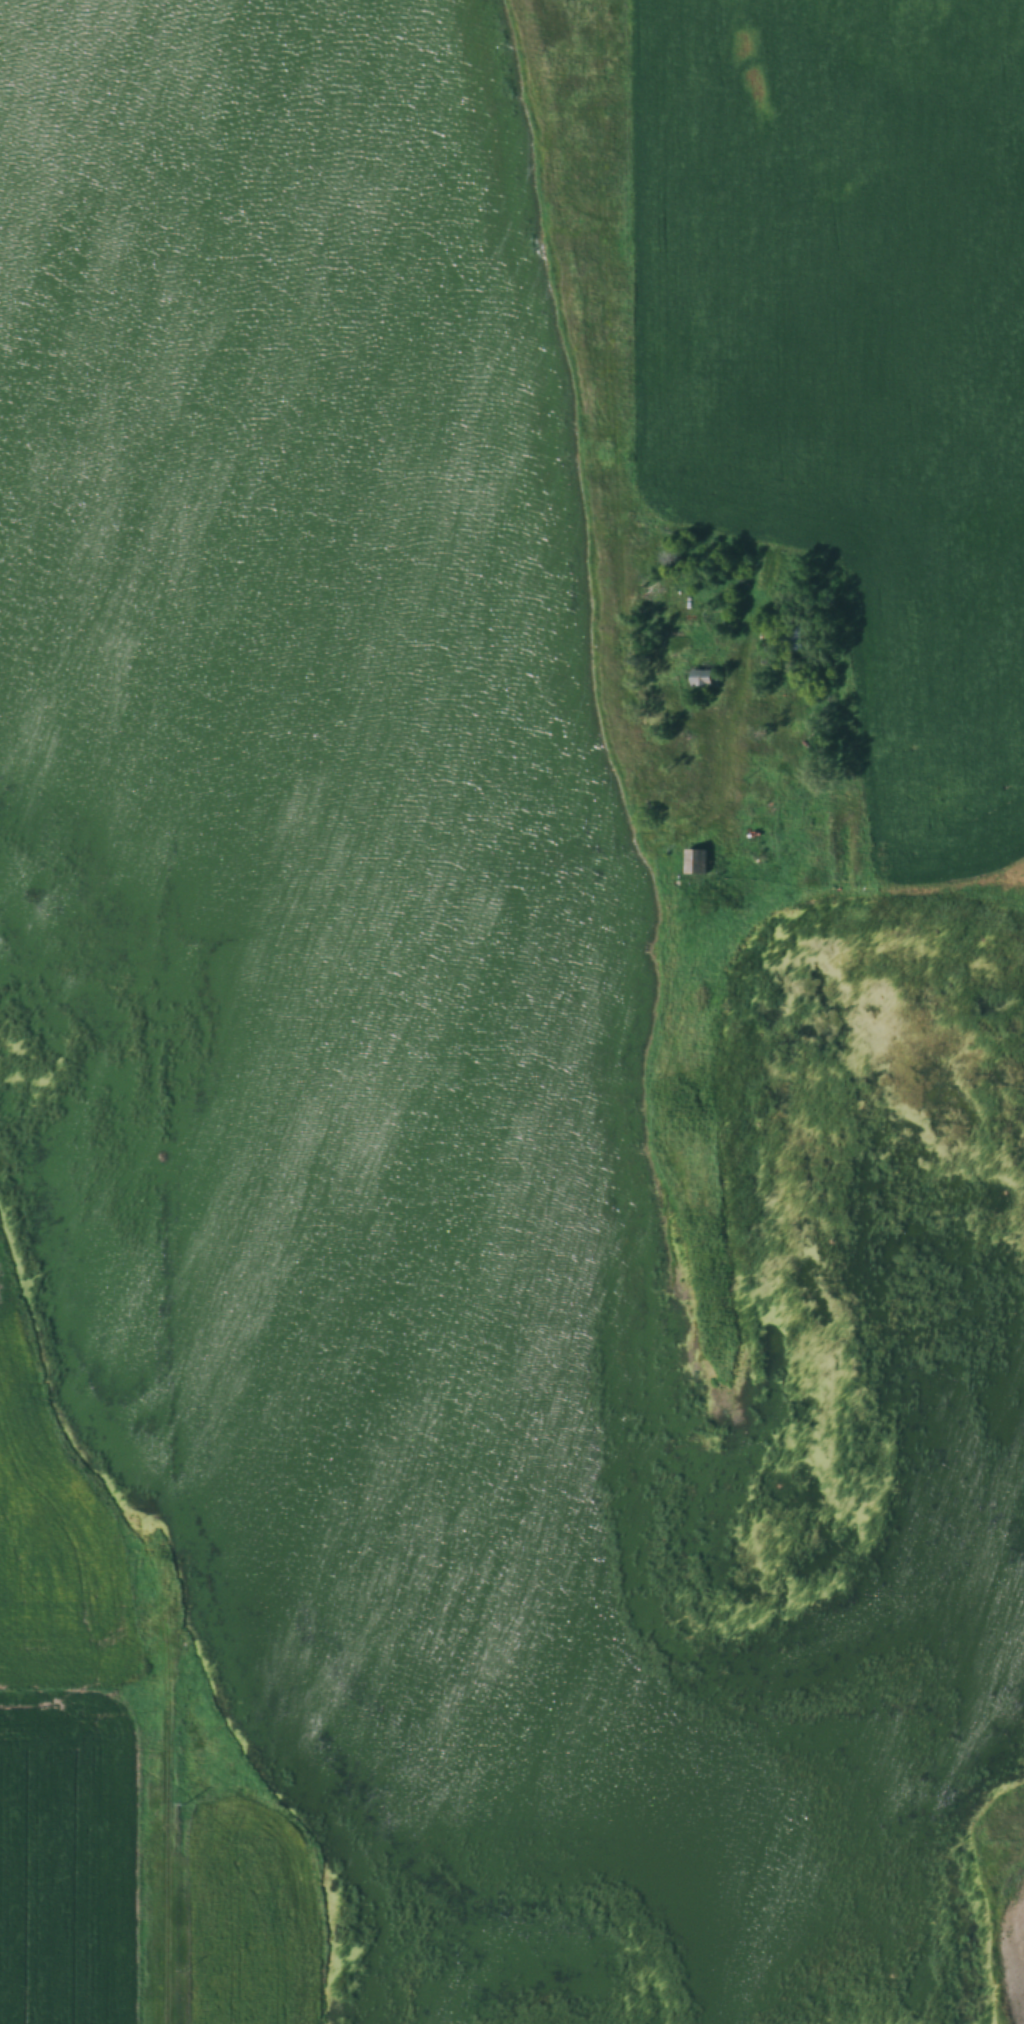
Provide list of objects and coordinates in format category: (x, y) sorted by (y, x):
building: (785, 634)
building: (705, 678)
building: (696, 860)
road: (171, 1011)
crop: (250, 1923)

